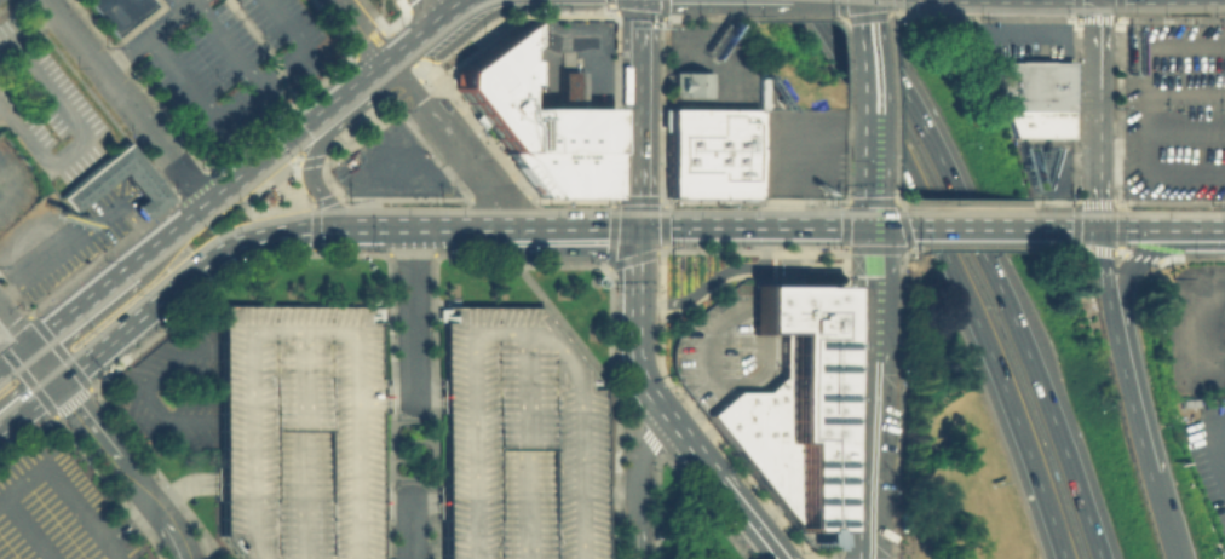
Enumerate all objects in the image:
railway: (873, 0)
road: (413, 5)
road: (431, 10)
road: (452, 10)
railway: (1053, 10)
building: (117, 12)
road: (345, 12)
road: (372, 13)
road: (393, 19)
road: (144, 34)
road: (380, 35)
parking lot: (1013, 40)
road: (223, 41)
road: (366, 41)
road: (409, 42)
road: (1143, 46)
road: (363, 47)
road: (587, 57)
parking lot: (229, 63)
road: (863, 69)
building: (689, 85)
road: (357, 86)
road: (237, 97)
building: (1028, 98)
road: (126, 102)
parking lot: (42, 105)
parking lot: (1173, 110)
road: (280, 113)
road: (639, 113)
road: (1100, 114)
building: (536, 123)
road: (306, 126)
road: (1184, 131)
road: (321, 132)
road: (448, 140)
road: (780, 143)
road: (386, 144)
road: (283, 151)
building: (708, 152)
road: (305, 160)
parking lot: (390, 166)
parking lot: (1040, 167)
road: (253, 168)
railway: (289, 168)
road: (1162, 177)
building: (87, 183)
road: (863, 183)
road: (190, 184)
parking lot: (17, 186)
railway: (242, 190)
road: (320, 195)
railway: (299, 196)
road: (278, 201)
road: (317, 202)
railway: (416, 212)
railway: (967, 213)
road: (314, 214)
railway: (1128, 214)
road: (137, 224)
traffic signals: (345, 225)
road: (375, 225)
road: (750, 225)
traffic signals: (637, 226)
traffic signals: (865, 227)
road: (886, 227)
road: (972, 227)
road: (177, 229)
road: (565, 229)
traffic signals: (1100, 229)
road: (1109, 229)
road: (1202, 230)
parking lot: (82, 238)
road: (58, 253)
road: (763, 254)
road: (100, 255)
road: (815, 264)
road: (955, 272)
road: (994, 272)
road: (1127, 272)
road: (1104, 283)
road: (700, 289)
road: (865, 293)
road: (151, 301)
road: (757, 302)
road: (763, 306)
road: (76, 307)
road: (410, 312)
road: (13, 325)
road: (297, 332)
road: (510, 332)
road: (12, 333)
traffic signals: (27, 348)
building: (723, 350)
parking lot: (723, 350)
road: (13, 359)
road: (40, 365)
road: (638, 365)
parking lot: (1200, 370)
road: (1206, 376)
road: (706, 379)
traffic signals: (54, 382)
parking lot: (177, 386)
road: (142, 387)
road: (409, 399)
road: (397, 404)
road: (1131, 404)
road: (27, 405)
building: (790, 407)
building: (298, 430)
parking lot: (298, 430)
building: (516, 437)
parking lot: (516, 437)
road: (298, 445)
road: (523, 445)
road: (1212, 446)
road: (431, 448)
road: (864, 459)
road: (122, 468)
road: (638, 468)
road: (194, 482)
road: (63, 489)
road: (399, 495)
road: (409, 500)
parking lot: (56, 511)
road: (121, 514)
road: (1163, 514)
road: (750, 519)
road: (29, 528)
road: (410, 529)
road: (637, 543)

